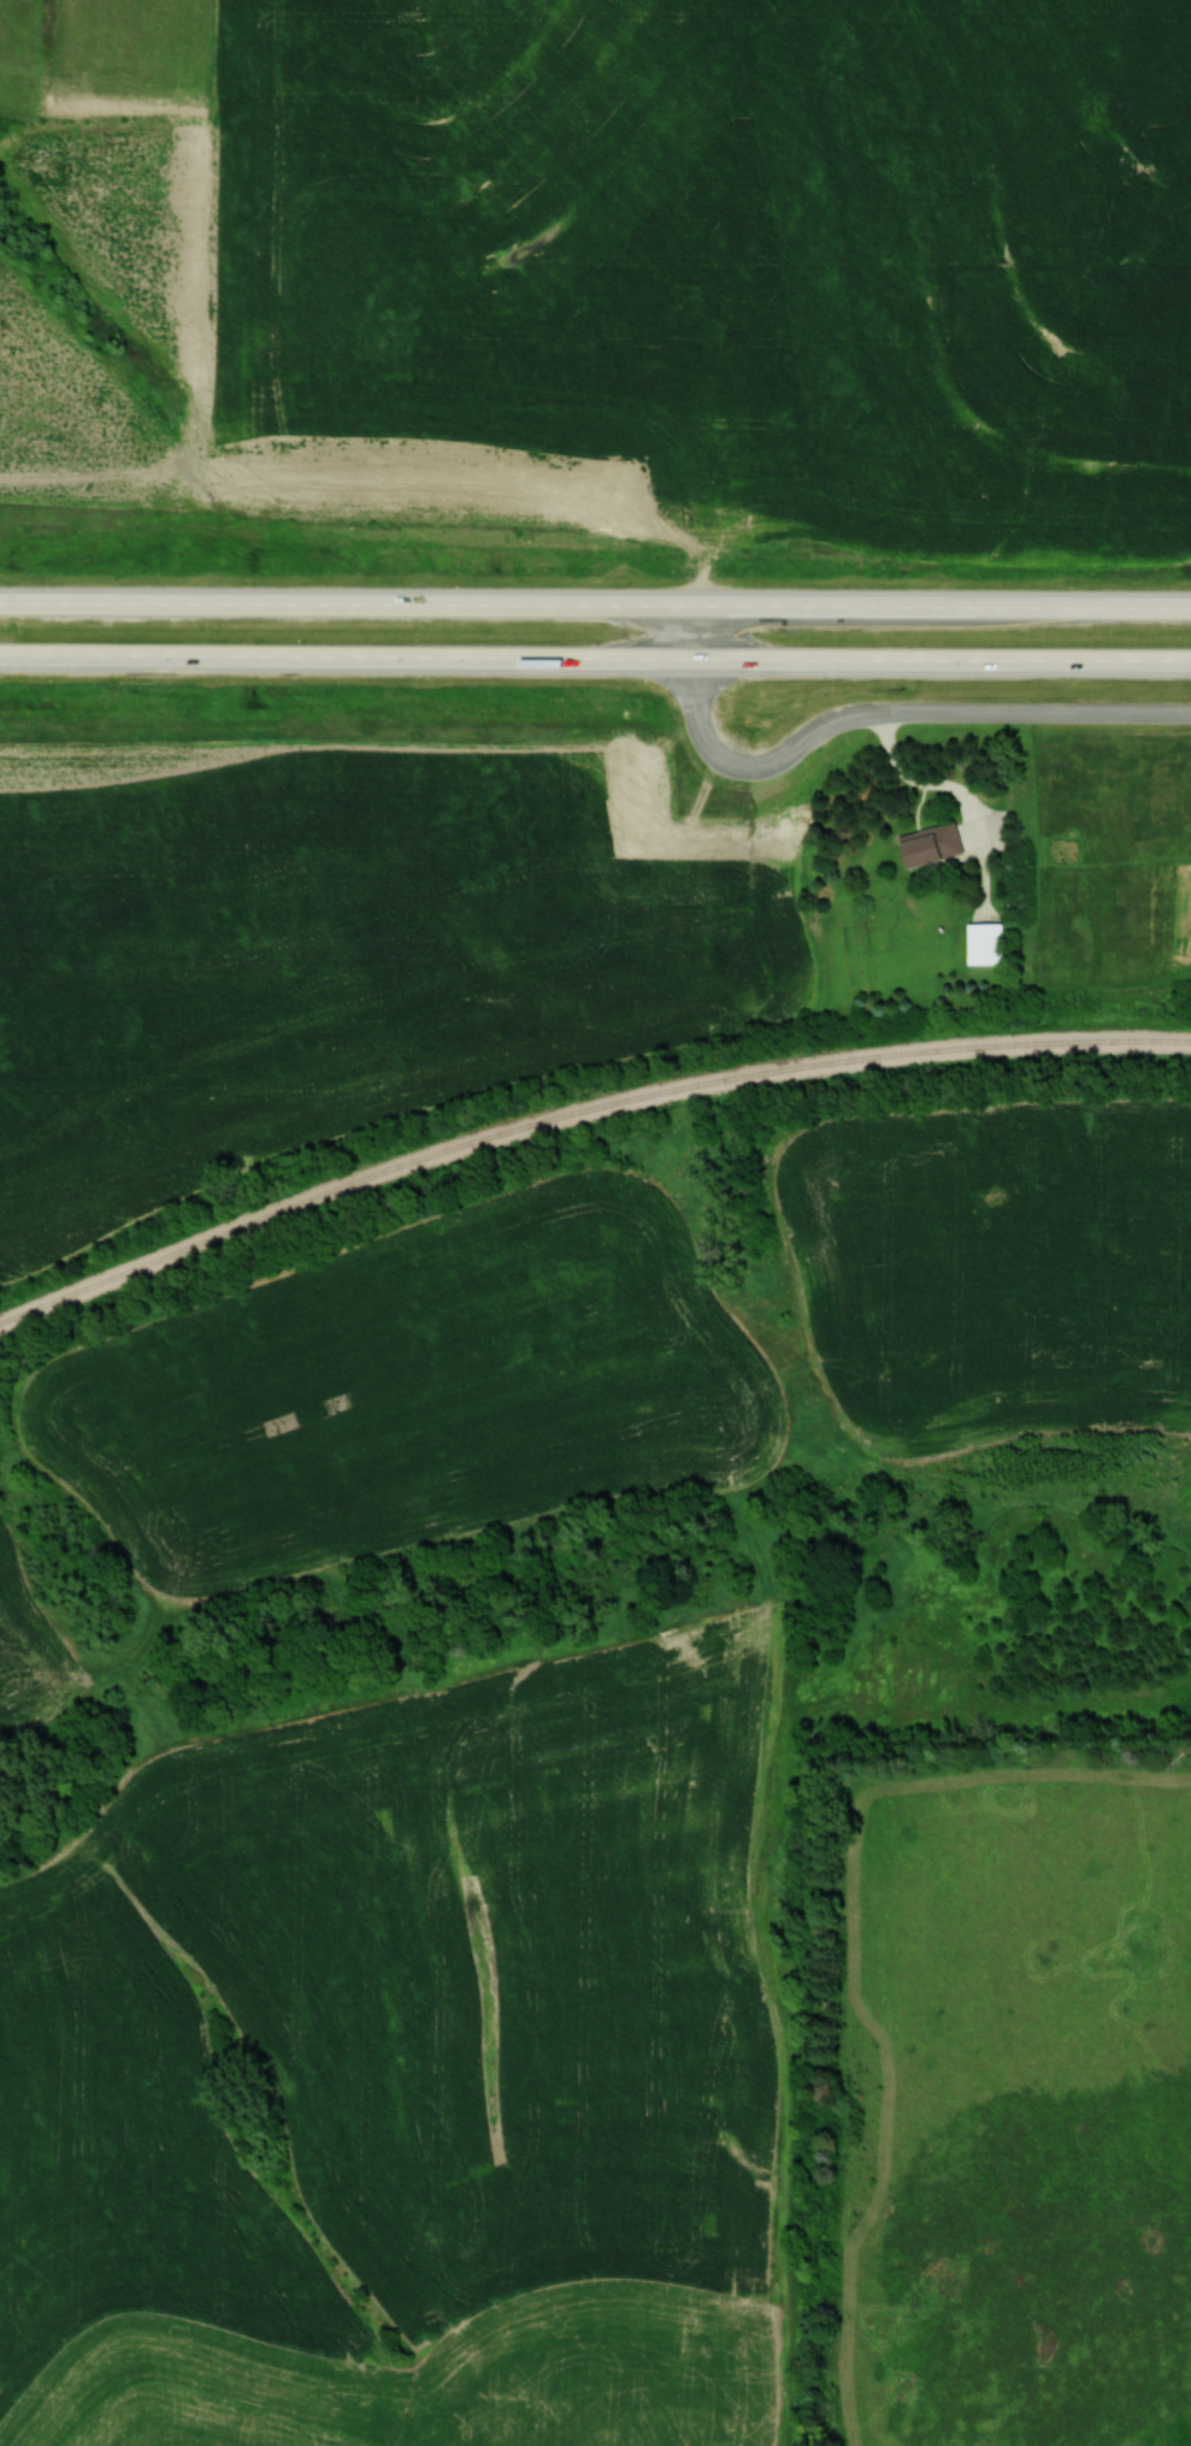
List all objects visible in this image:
crop: (717, 253)
road: (594, 589)
road: (987, 709)
road: (742, 760)
building: (928, 845)
building: (983, 944)
railway: (578, 1109)
park: (998, 2012)

